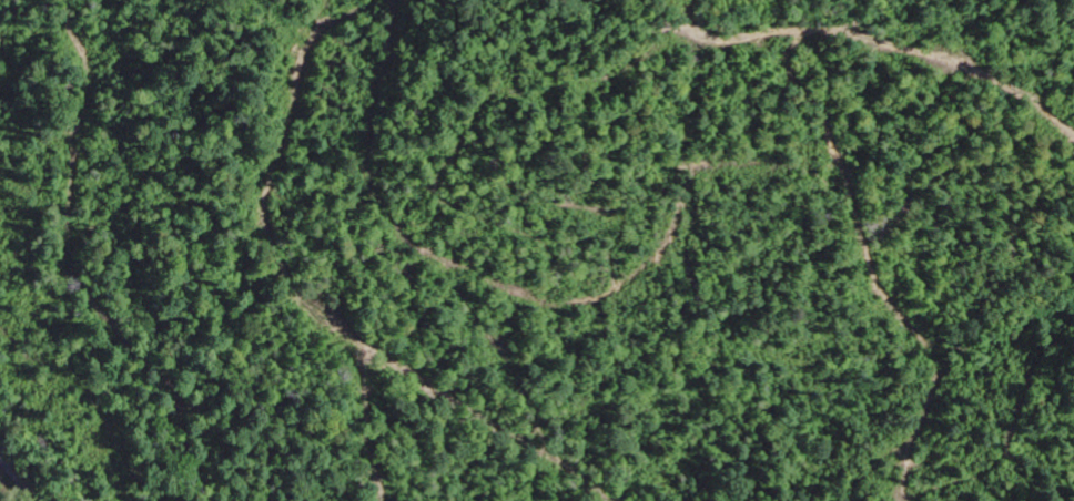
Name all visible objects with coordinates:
road: (20, 472)

